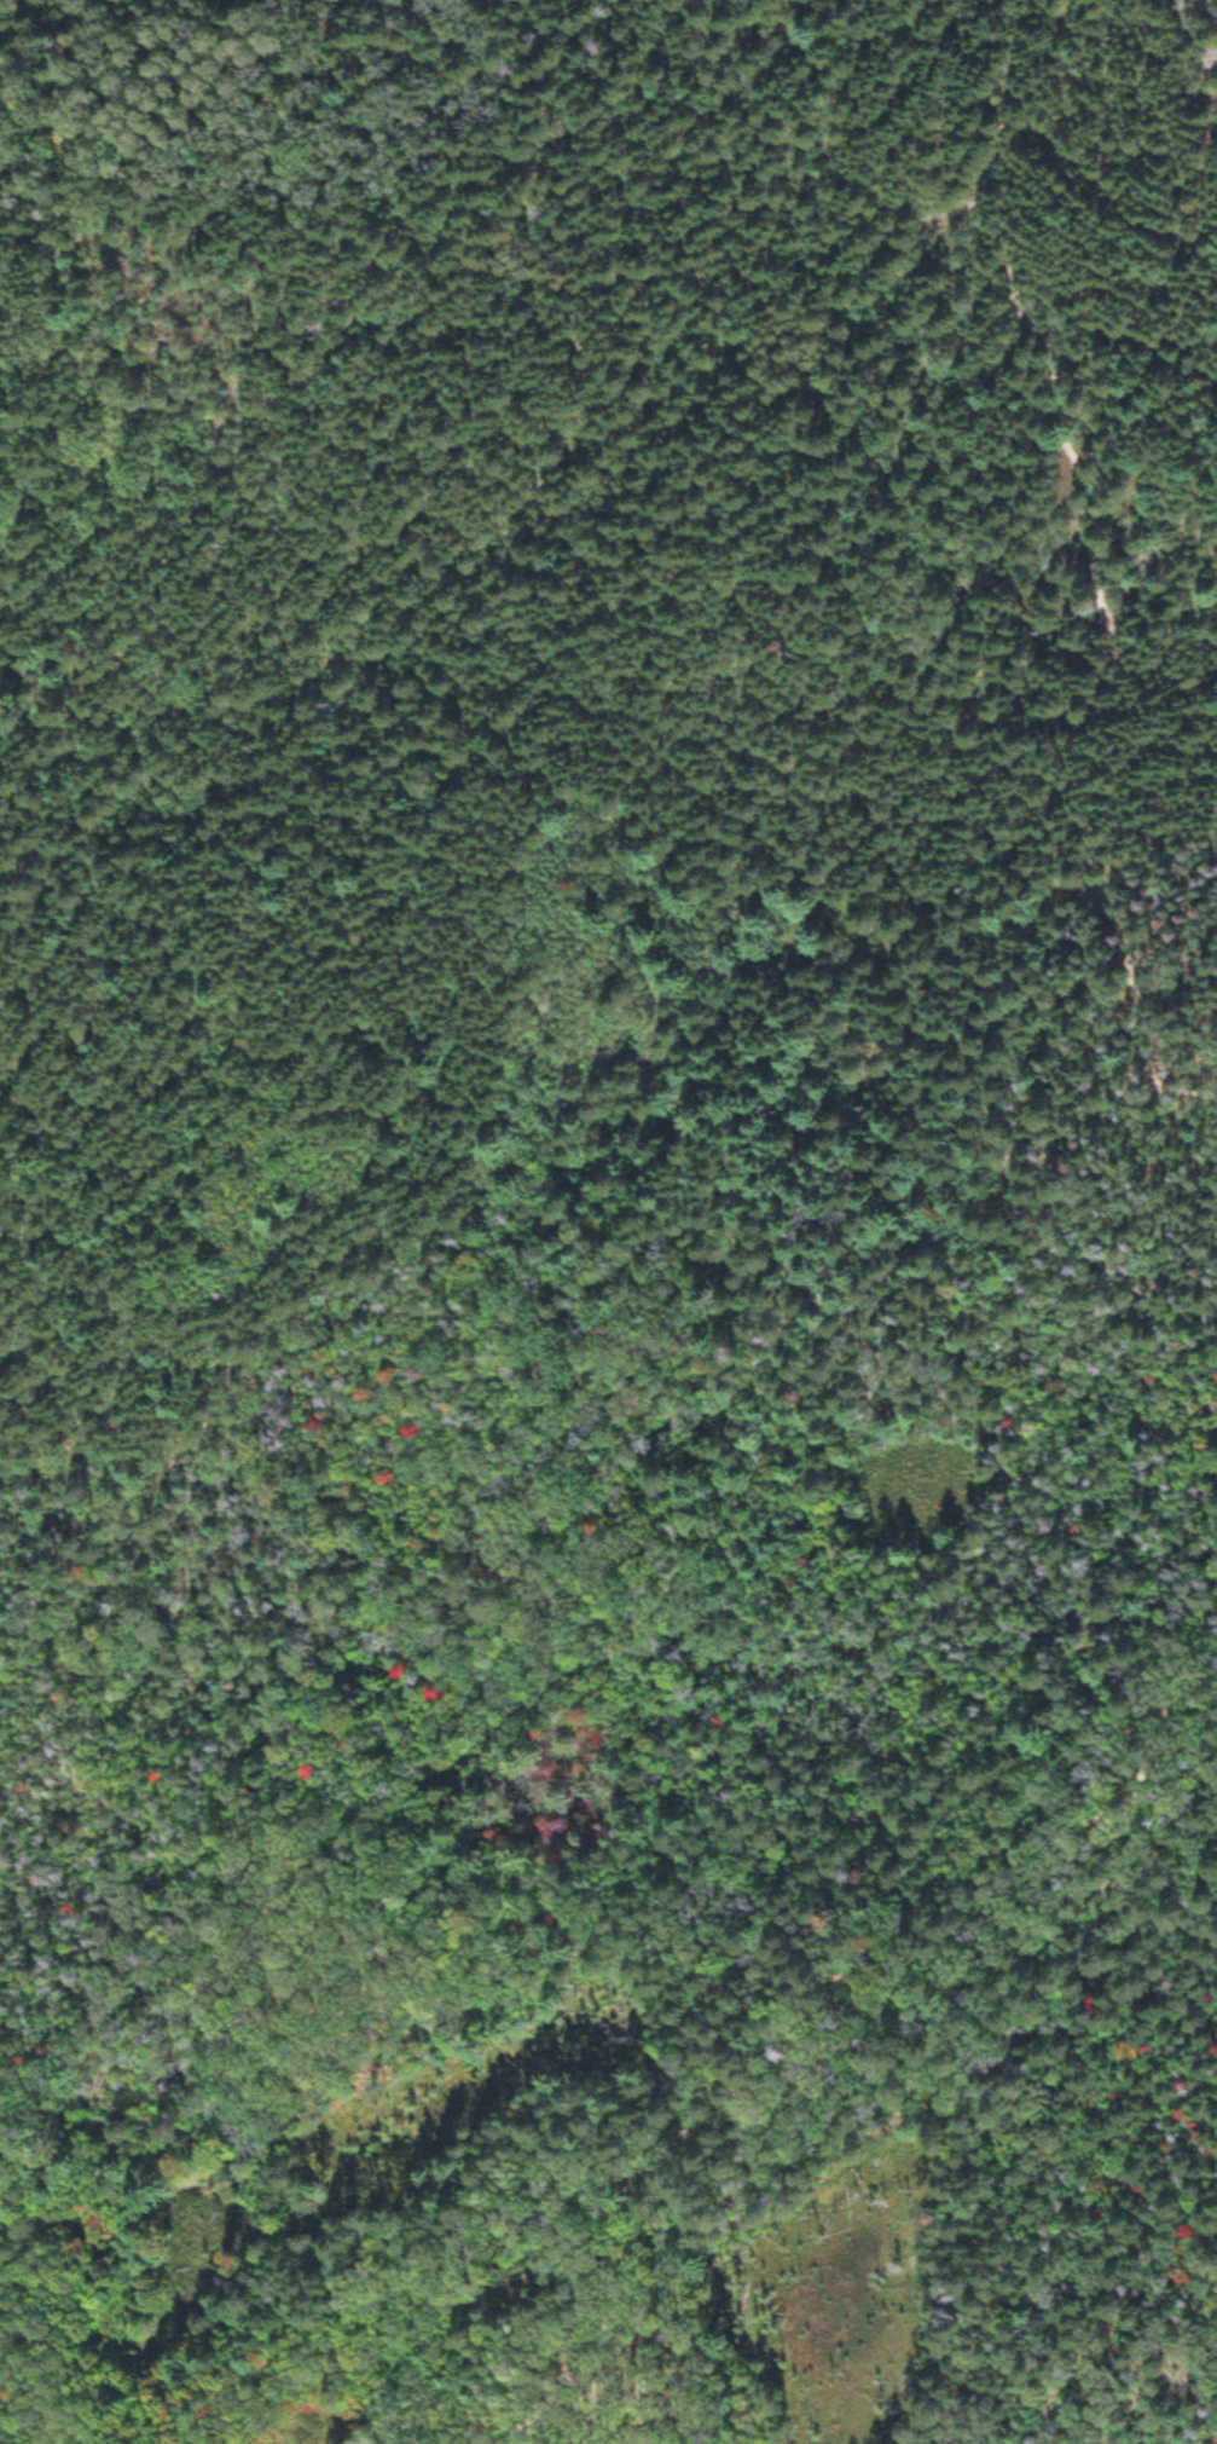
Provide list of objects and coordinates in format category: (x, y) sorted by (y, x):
road: (1106, 570)

